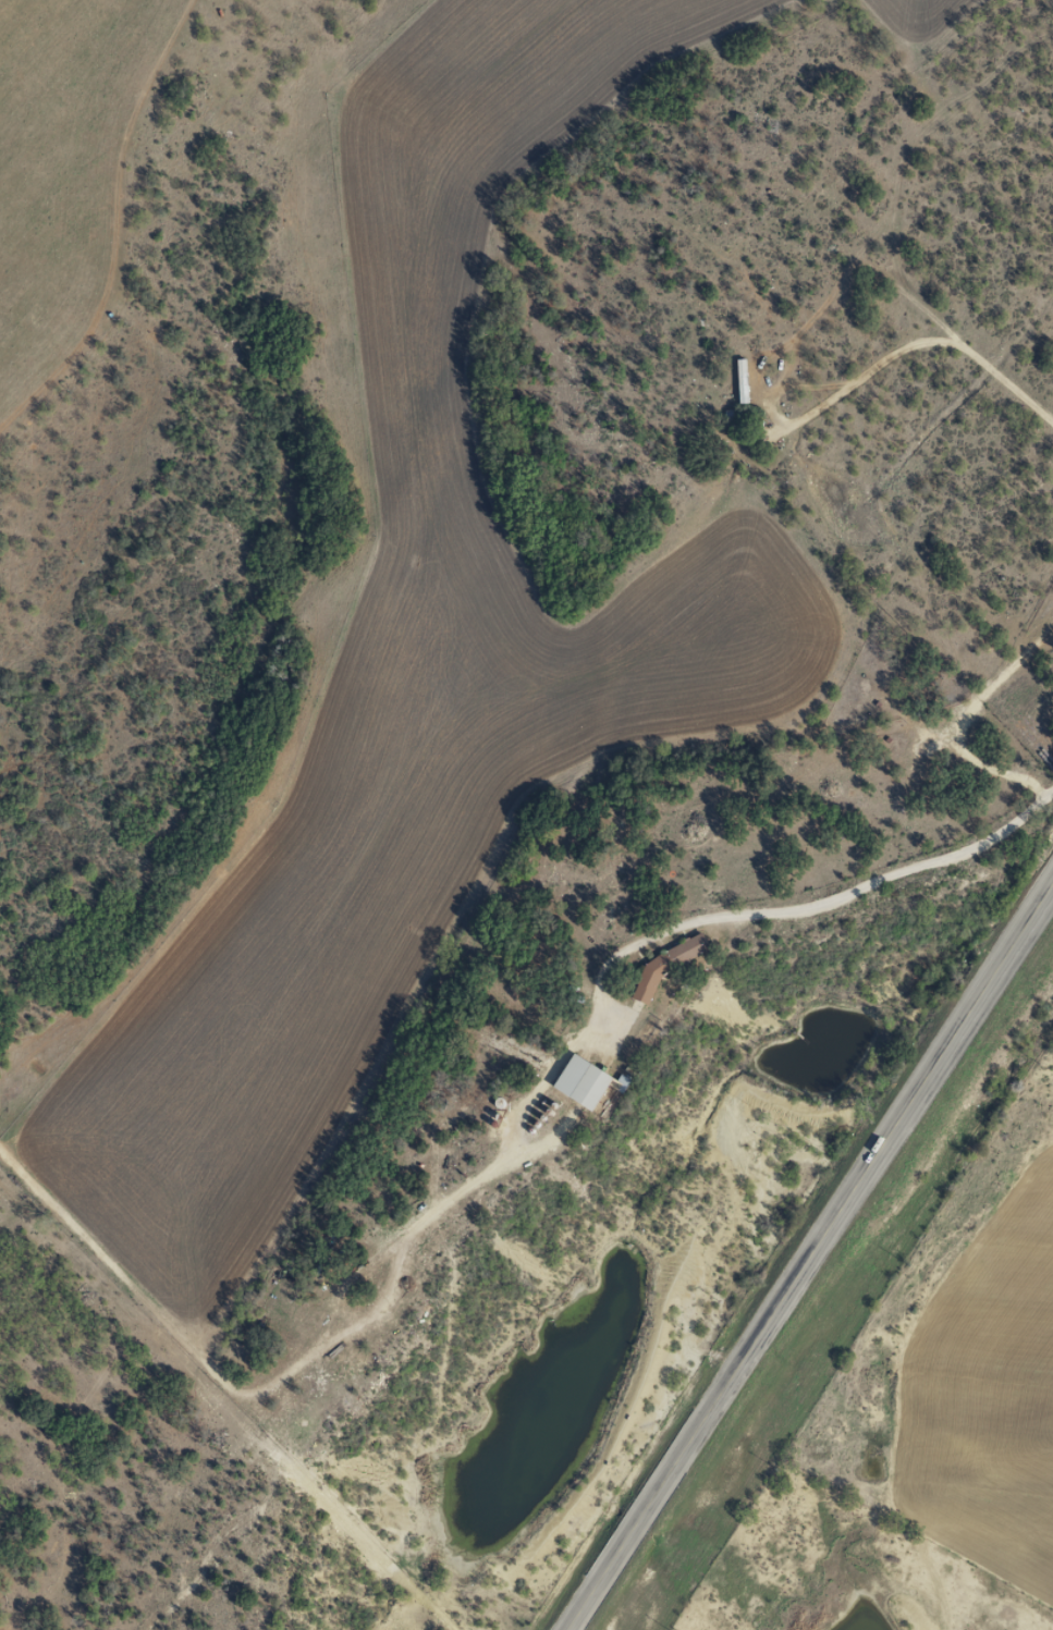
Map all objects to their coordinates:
crop: (911, 17)
crop: (62, 156)
road: (920, 336)
building: (739, 380)
crop: (399, 665)
road: (806, 911)
building: (584, 1082)
road: (805, 1261)
road: (193, 1399)

